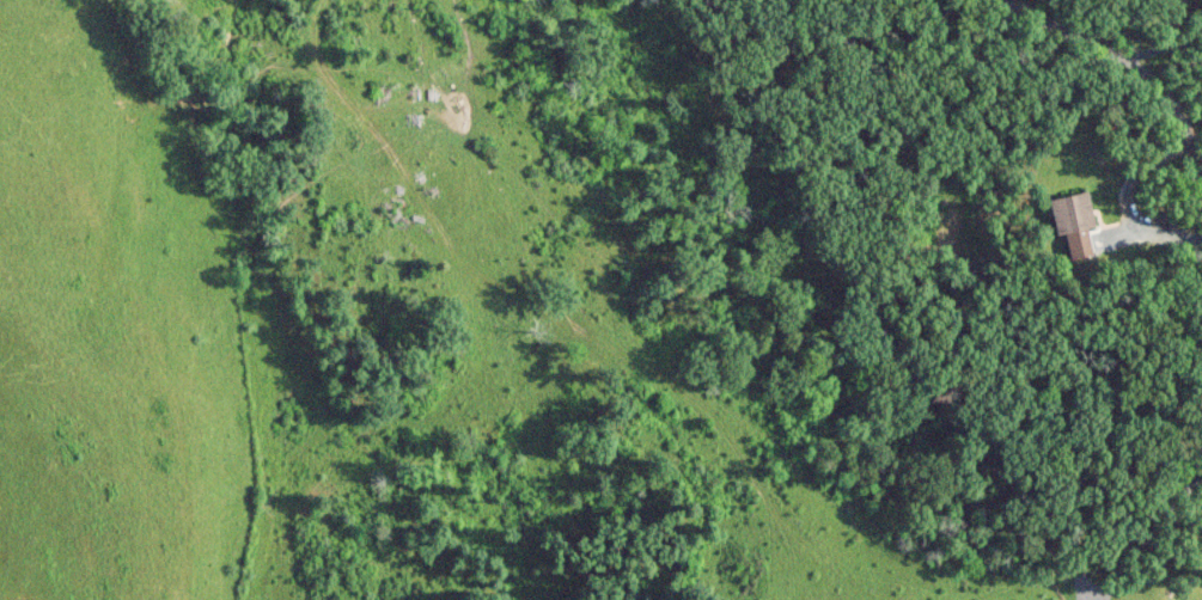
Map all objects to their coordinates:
road: (1139, 69)
building: (1072, 213)

